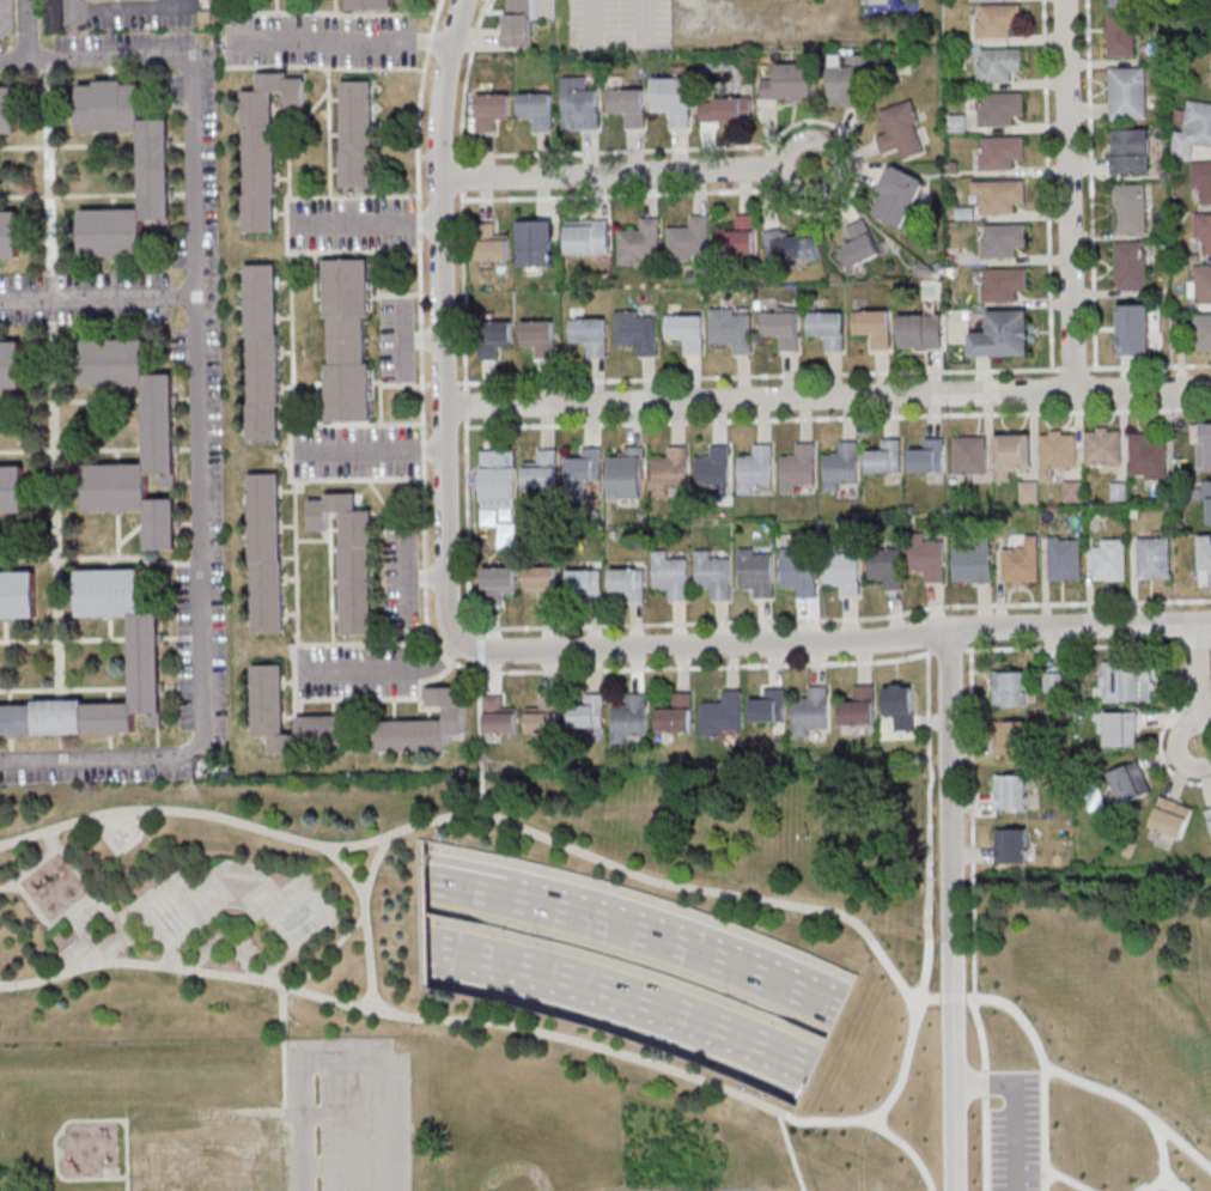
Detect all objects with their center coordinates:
building: (1200, 0)
building: (1124, 2)
building: (371, 5)
road: (124, 10)
building: (997, 22)
building: (519, 23)
parking lot: (619, 24)
road: (26, 29)
building: (1120, 35)
road: (348, 38)
road: (616, 41)
building: (997, 65)
road: (464, 79)
building: (789, 83)
building: (850, 87)
building: (1127, 93)
building: (671, 99)
building: (7, 107)
building: (579, 107)
building: (627, 107)
building: (998, 108)
building: (725, 109)
building: (492, 110)
building: (536, 110)
building: (901, 130)
building: (1193, 130)
building: (358, 138)
building: (264, 145)
road: (735, 146)
building: (1000, 151)
building: (1131, 152)
road: (434, 156)
building: (153, 169)
road: (631, 170)
road: (461, 176)
building: (1201, 181)
road: (1048, 184)
road: (1089, 184)
road: (615, 194)
road: (1070, 194)
building: (998, 195)
building: (897, 196)
building: (1130, 211)
road: (376, 219)
building: (1203, 231)
building: (8, 233)
building: (586, 238)
building: (738, 238)
building: (1002, 239)
building: (690, 241)
building: (535, 243)
building: (640, 244)
building: (858, 247)
building: (493, 248)
building: (793, 248)
building: (1131, 267)
building: (1003, 282)
building: (1201, 284)
road: (463, 291)
road: (101, 298)
road: (397, 320)
road: (446, 320)
building: (874, 327)
building: (827, 328)
building: (1133, 328)
building: (732, 329)
building: (781, 329)
building: (637, 332)
building: (920, 332)
building: (1203, 332)
building: (686, 333)
building: (1003, 334)
building: (589, 335)
road: (402, 336)
building: (538, 336)
building: (494, 338)
building: (348, 342)
building: (262, 356)
building: (10, 363)
road: (1148, 366)
road: (1072, 369)
road: (759, 376)
road: (438, 383)
road: (829, 395)
road: (464, 405)
road: (205, 408)
road: (838, 418)
building: (158, 423)
building: (1207, 444)
building: (1102, 448)
road: (375, 451)
building: (1057, 451)
building: (1011, 452)
building: (969, 455)
building: (927, 456)
building: (886, 457)
building: (1148, 457)
building: (714, 467)
building: (797, 467)
building: (841, 467)
building: (755, 468)
building: (542, 469)
building: (585, 469)
building: (670, 472)
building: (627, 474)
building: (499, 476)
building: (11, 487)
building: (1072, 491)
building: (1205, 494)
building: (1205, 554)
building: (267, 557)
building: (927, 557)
building: (1064, 558)
building: (1154, 558)
building: (352, 559)
building: (1109, 559)
building: (972, 561)
building: (1021, 563)
building: (887, 566)
building: (757, 571)
building: (799, 572)
building: (844, 572)
road: (425, 573)
building: (671, 575)
building: (713, 575)
road: (408, 576)
road: (430, 578)
building: (499, 581)
building: (543, 582)
building: (585, 583)
building: (627, 584)
building: (17, 593)
road: (738, 621)
road: (1079, 627)
road: (704, 644)
road: (1197, 644)
road: (1210, 644)
road: (1073, 645)
road: (947, 650)
building: (142, 658)
road: (390, 674)
building: (1125, 681)
building: (1055, 682)
road: (1198, 685)
building: (1010, 688)
building: (769, 705)
building: (899, 705)
building: (858, 706)
building: (810, 711)
building: (589, 713)
building: (676, 713)
building: (724, 715)
building: (544, 716)
building: (499, 717)
building: (631, 718)
road: (481, 719)
building: (352, 725)
road: (1163, 727)
building: (1120, 729)
building: (1010, 737)
road: (972, 747)
building: (1130, 783)
road: (191, 784)
building: (1010, 791)
building: (1209, 814)
road: (112, 818)
building: (1172, 818)
road: (927, 826)
road: (1, 844)
building: (1011, 845)
road: (372, 867)
road: (477, 869)
road: (8, 886)
road: (469, 893)
road: (534, 905)
road: (953, 911)
road: (61, 914)
road: (366, 922)
road: (225, 940)
road: (236, 947)
road: (329, 950)
road: (694, 953)
road: (170, 956)
road: (973, 956)
road: (276, 962)
park: (626, 964)
park: (207, 978)
road: (619, 998)
road: (914, 1019)
park: (1093, 1029)
road: (284, 1045)
road: (1039, 1047)
road: (985, 1081)
road: (1130, 1104)
road: (1012, 1106)
road: (300, 1120)
road: (62, 1123)
park: (534, 1126)
parking lot: (1014, 1131)
road: (985, 1143)
road: (1185, 1147)
road: (790, 1149)
road: (908, 1149)
building: (208, 1160)
road: (1067, 1178)
road: (127, 1184)
road: (1154, 1186)
road: (1172, 1186)

